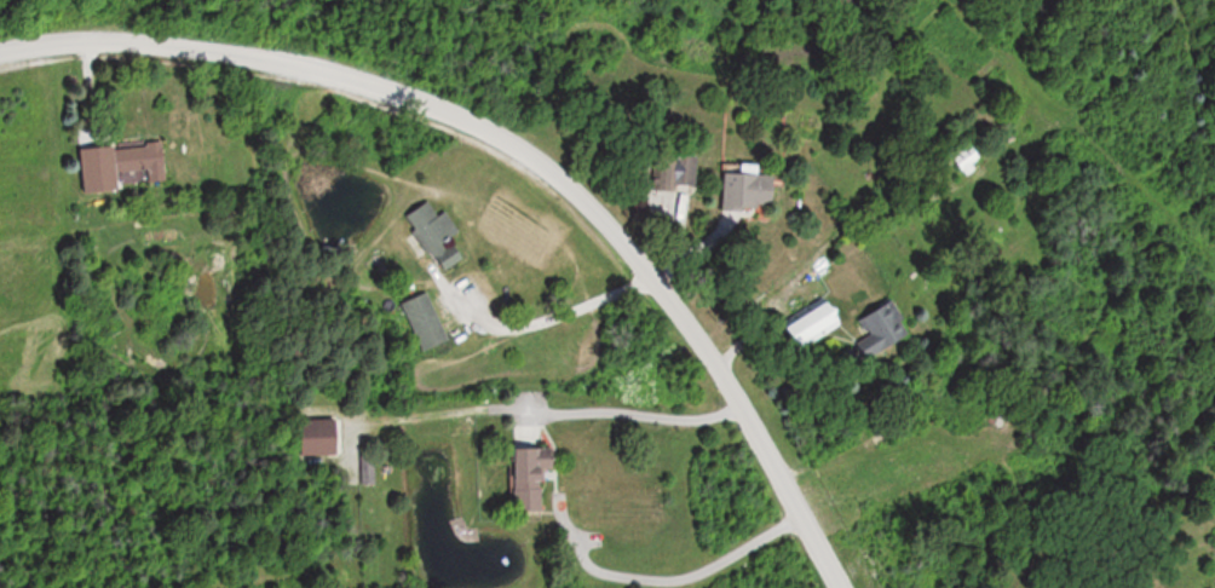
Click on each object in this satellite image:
road: (525, 143)
building: (146, 157)
building: (967, 158)
building: (686, 169)
building: (750, 190)
building: (437, 235)
building: (816, 321)
building: (426, 322)
road: (552, 323)
building: (882, 330)
road: (755, 340)
road: (559, 414)
building: (322, 438)
building: (534, 477)
road: (660, 583)

